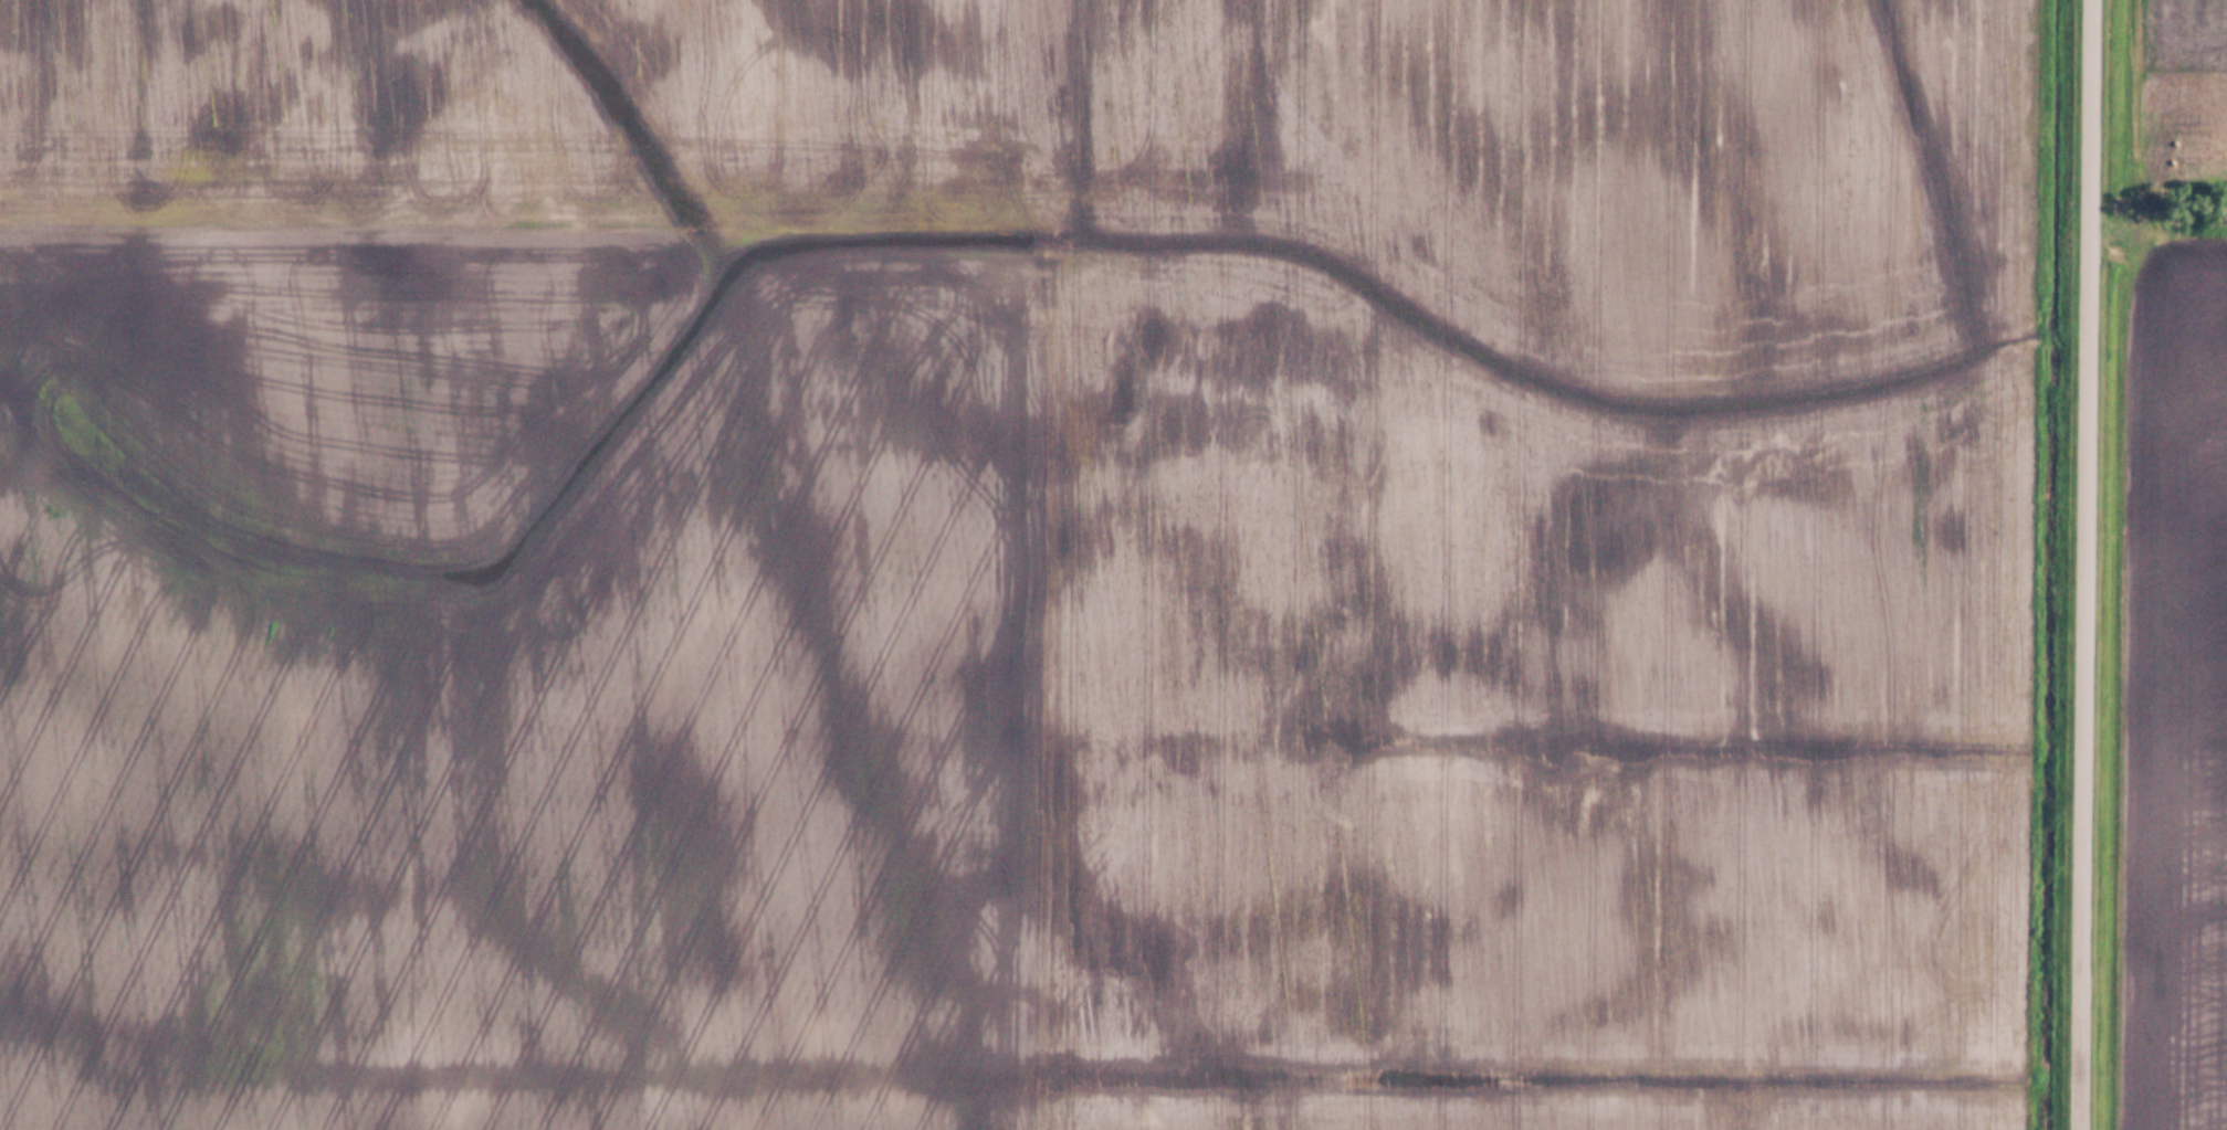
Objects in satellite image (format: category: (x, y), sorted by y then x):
road: (2088, 564)

